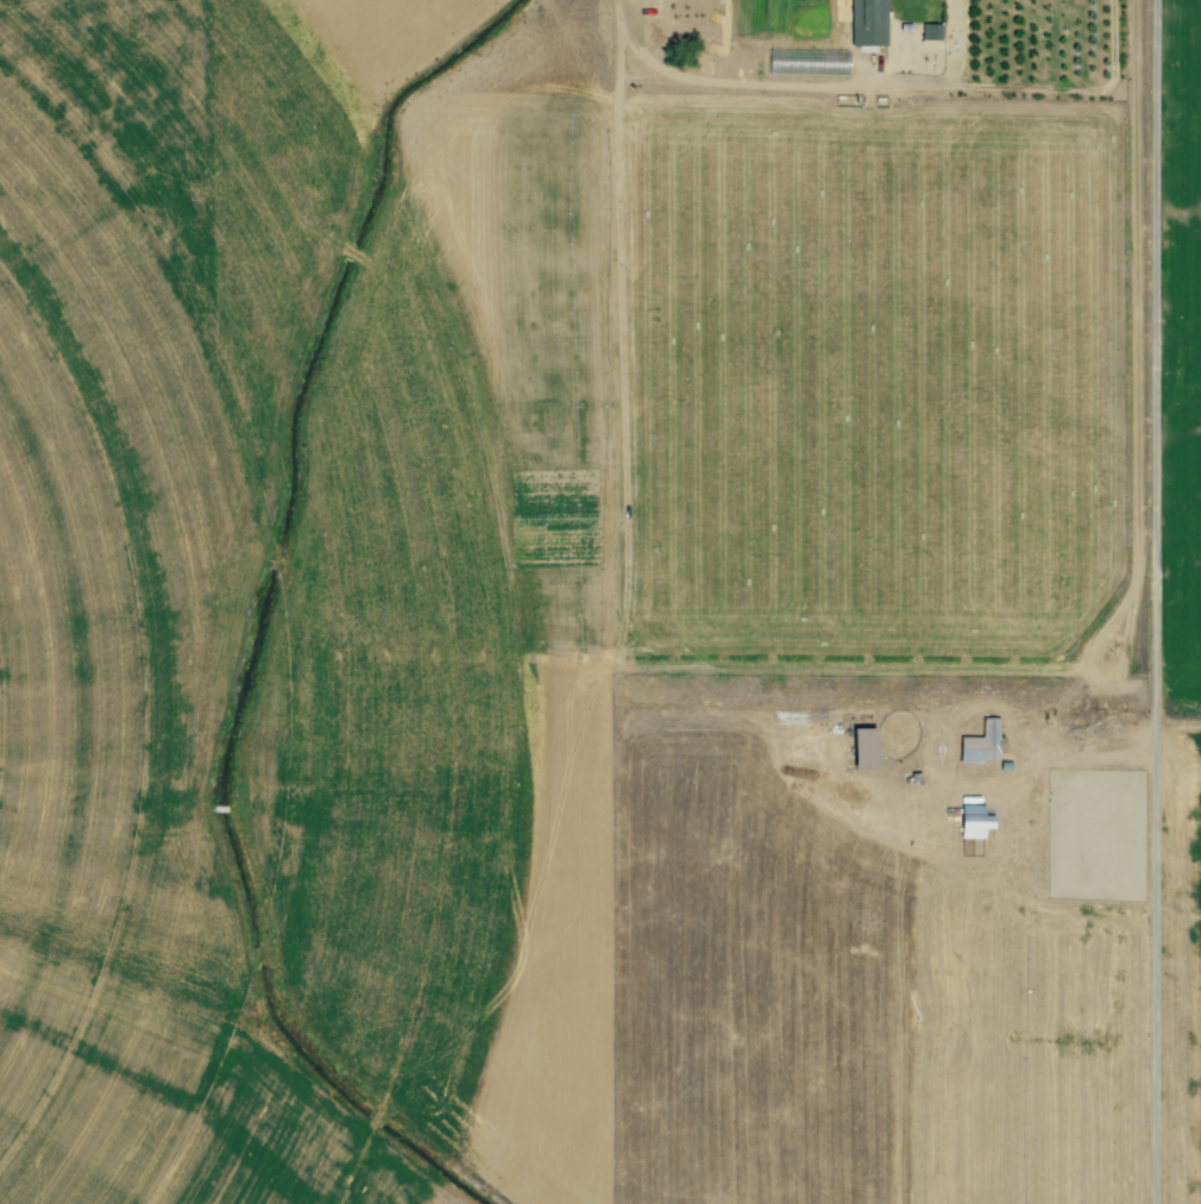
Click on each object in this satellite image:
building: (867, 23)
road: (1147, 401)
building: (981, 744)
building: (862, 746)
building: (973, 817)

